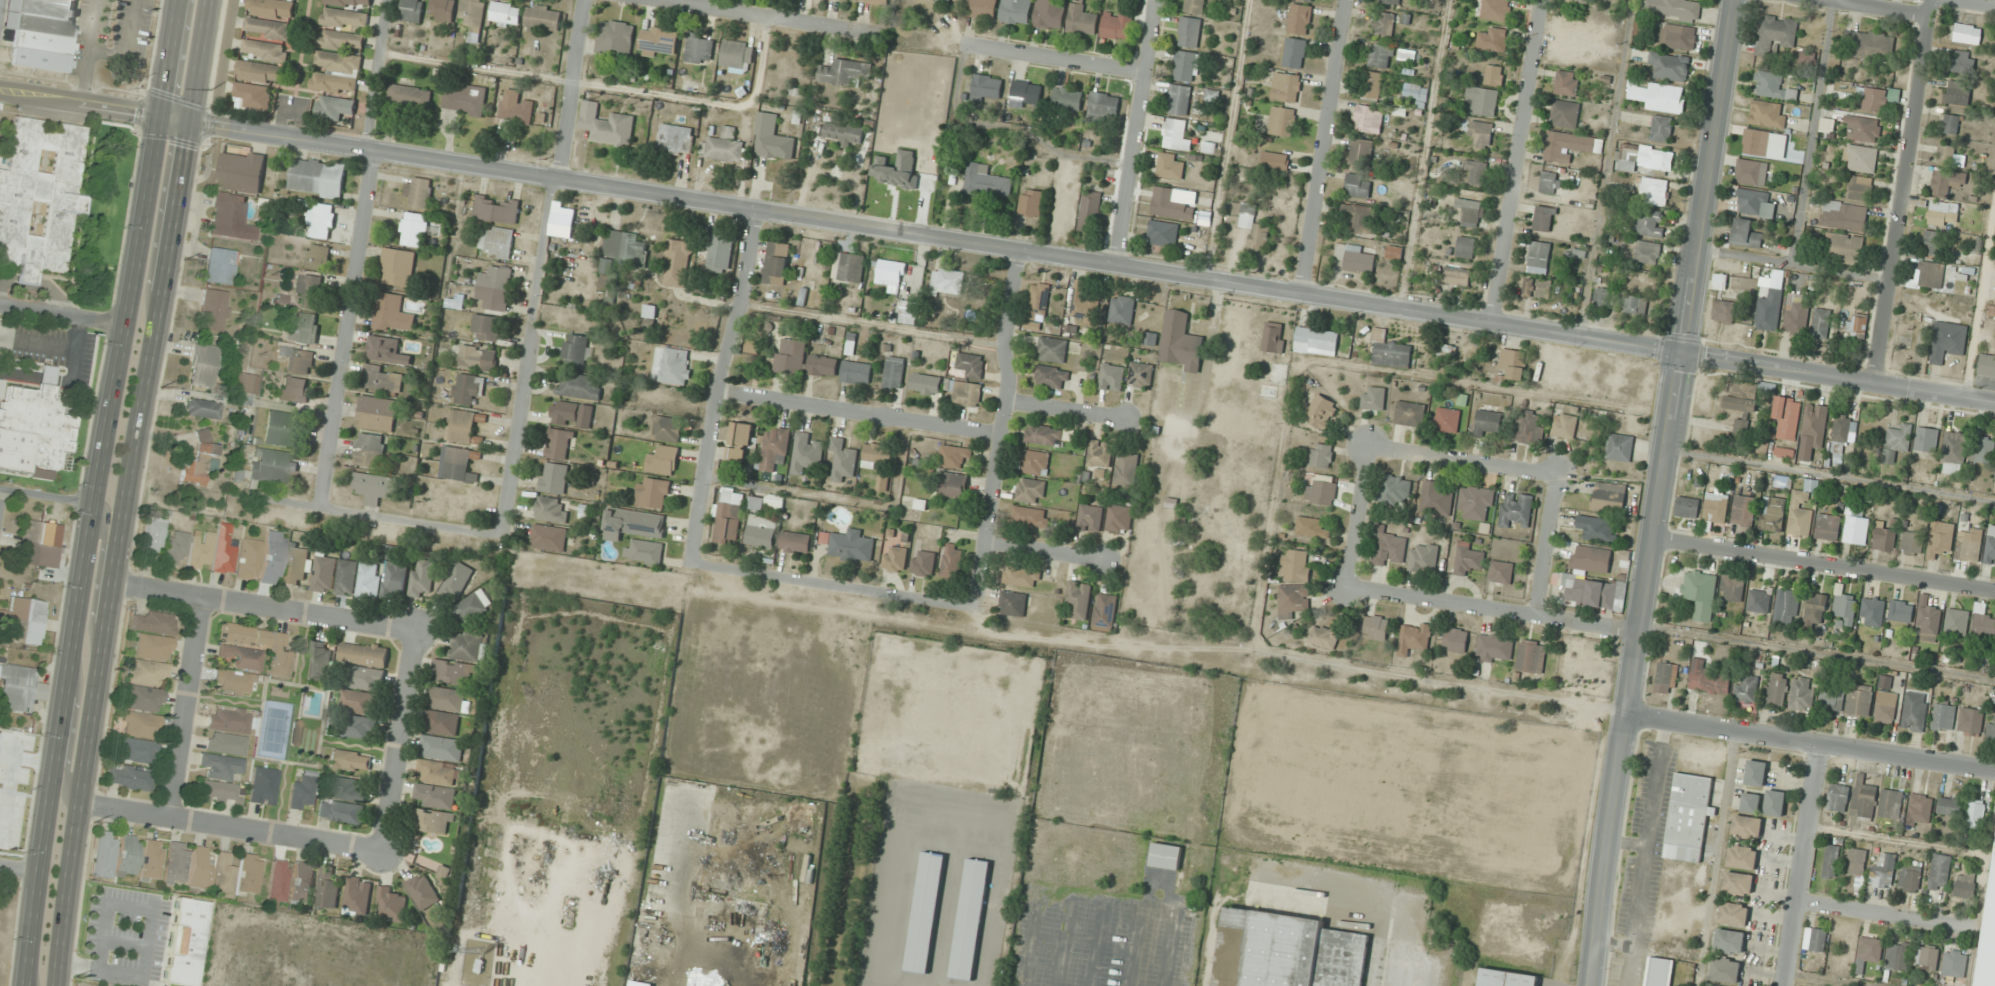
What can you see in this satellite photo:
building: (852, 0)
building: (1310, 0)
building: (1583, 0)
building: (944, 1)
building: (1390, 1)
building: (878, 2)
road: (1976, 2)
building: (351, 3)
building: (1194, 6)
building: (272, 8)
building: (982, 8)
road: (1876, 8)
building: (443, 9)
building: (1672, 9)
building: (412, 10)
building: (1496, 10)
building: (1016, 11)
building: (506, 13)
building: (1050, 14)
building: (473, 15)
road: (764, 16)
building: (542, 17)
building: (345, 18)
building: (1300, 18)
building: (1082, 19)
building: (1116, 24)
building: (1384, 24)
building: (268, 28)
building: (41, 32)
building: (1189, 32)
building: (1966, 33)
building: (1775, 35)
building: (1677, 36)
building: (615, 38)
building: (341, 40)
building: (1493, 40)
building: (658, 41)
building: (1869, 44)
building: (699, 49)
building: (266, 50)
building: (1295, 52)
building: (734, 54)
building: (1381, 56)
road: (1054, 57)
building: (1808, 57)
building: (1963, 62)
building: (1186, 66)
building: (1670, 66)
building: (261, 72)
building: (337, 72)
building: (845, 72)
building: (1494, 75)
building: (1567, 83)
building: (1373, 84)
building: (689, 85)
building: (1773, 85)
road: (607, 86)
building: (986, 87)
building: (1286, 87)
building: (1026, 92)
building: (1958, 92)
building: (1416, 93)
building: (253, 95)
building: (410, 96)
building: (1659, 96)
building: (1067, 99)
building: (1179, 99)
building: (1875, 99)
building: (465, 100)
building: (1480, 100)
building: (1104, 104)
building: (334, 107)
building: (516, 107)
building: (1565, 114)
building: (1768, 114)
traffic signals: (158, 117)
building: (1369, 118)
building: (1282, 121)
traffic signals: (188, 122)
building: (1951, 123)
building: (606, 125)
building: (1662, 128)
building: (1862, 128)
road: (1134, 131)
building: (1480, 133)
road: (1812, 133)
building: (1176, 135)
building: (675, 138)
road: (1226, 138)
building: (772, 139)
building: (1764, 143)
road: (1321, 146)
building: (1570, 146)
building: (724, 147)
building: (1361, 151)
road: (1423, 153)
building: (1947, 154)
building: (1644, 157)
building: (1860, 158)
building: (1275, 159)
road: (1518, 161)
building: (1170, 166)
road: (1606, 168)
building: (1477, 170)
building: (242, 171)
building: (1751, 172)
building: (318, 177)
road: (1707, 177)
building: (986, 182)
building: (1550, 182)
building: (1947, 182)
building: (1358, 185)
building: (1860, 187)
building: (419, 191)
building: (1654, 191)
road: (1902, 191)
building: (40, 197)
building: (1031, 202)
building: (1755, 203)
building: (1171, 204)
building: (497, 209)
building: (1089, 211)
building: (1470, 211)
building: (1943, 213)
building: (1842, 214)
building: (230, 217)
building: (1357, 218)
building: (1544, 218)
building: (322, 220)
building: (562, 222)
building: (1650, 222)
building: (1254, 227)
building: (414, 229)
building: (1162, 233)
building: (1745, 233)
building: (498, 242)
building: (1938, 243)
road: (997, 246)
building: (1466, 246)
building: (1844, 248)
building: (622, 250)
building: (1394, 252)
building: (1648, 252)
road: (357, 254)
building: (718, 254)
building: (1356, 257)
building: (1539, 257)
building: (679, 263)
building: (776, 263)
road: (1793, 265)
building: (220, 266)
building: (398, 267)
road: (539, 267)
building: (848, 267)
building: (891, 272)
building: (1931, 274)
building: (1456, 276)
building: (1720, 281)
building: (947, 282)
building: (495, 287)
building: (1537, 288)
building: (308, 289)
building: (1601, 296)
road: (1979, 296)
building: (1634, 303)
building: (1954, 304)
building: (1038, 305)
building: (1083, 305)
building: (1122, 309)
building: (1992, 309)
building: (1769, 310)
building: (213, 311)
building: (1724, 311)
building: (911, 312)
building: (391, 313)
road: (62, 314)
building: (1796, 315)
building: (650, 316)
building: (1821, 323)
building: (1856, 325)
building: (304, 327)
building: (486, 327)
building: (1274, 337)
building: (1316, 340)
building: (1947, 341)
building: (1181, 342)
building: (752, 346)
building: (1052, 349)
building: (387, 350)
building: (576, 351)
building: (1389, 351)
traffic signals: (1682, 355)
building: (790, 356)
building: (478, 357)
building: (298, 359)
building: (1514, 364)
building: (203, 365)
building: (823, 365)
building: (971, 365)
building: (1986, 366)
building: (675, 367)
building: (856, 372)
building: (894, 372)
building: (1281, 374)
building: (1141, 375)
building: (1052, 377)
building: (1112, 377)
building: (383, 379)
building: (926, 383)
road: (720, 385)
building: (579, 386)
building: (245, 387)
building: (467, 388)
building: (295, 389)
building: (966, 393)
building: (1373, 398)
building: (1742, 402)
road: (1064, 407)
building: (202, 409)
building: (377, 413)
road: (859, 413)
building: (1324, 413)
building: (1410, 413)
building: (572, 414)
building: (1787, 417)
building: (1447, 419)
building: (1487, 422)
building: (1816, 423)
building: (1565, 425)
building: (35, 426)
building: (465, 426)
road: (1001, 427)
building: (1528, 427)
building: (668, 428)
building: (283, 429)
building: (1047, 435)
building: (1840, 436)
building: (1926, 439)
building: (1897, 442)
building: (560, 443)
building: (741, 443)
building: (1619, 447)
building: (369, 449)
building: (773, 449)
building: (1983, 450)
building: (1953, 452)
building: (806, 453)
building: (878, 453)
building: (1784, 453)
building: (954, 455)
building: (1321, 455)
building: (1100, 457)
building: (843, 458)
building: (663, 460)
building: (200, 461)
road: (1463, 461)
building: (1035, 462)
building: (460, 465)
building: (271, 466)
building: (1126, 469)
building: (554, 478)
building: (1783, 481)
building: (883, 482)
building: (953, 484)
building: (373, 486)
building: (1031, 490)
building: (1396, 490)
building: (1322, 491)
road: (0, 492)
road: (95, 492)
road: (126, 492)
building: (653, 492)
road: (47, 495)
building: (1436, 497)
building: (1608, 497)
building: (774, 501)
building: (1476, 503)
building: (1687, 507)
building: (1716, 507)
building: (551, 509)
building: (1516, 510)
building: (1743, 510)
building: (1800, 513)
building: (1772, 514)
road: (367, 515)
building: (1030, 516)
road: (1359, 517)
building: (1090, 518)
building: (1119, 518)
building: (729, 520)
building: (633, 523)
building: (1312, 527)
building: (1828, 527)
building: (1597, 529)
building: (1856, 530)
building: (762, 531)
building: (549, 537)
building: (1940, 538)
building: (153, 539)
building: (1885, 539)
building: (795, 542)
building: (1912, 542)
building: (40, 544)
building: (849, 545)
road: (1547, 546)
building: (1990, 546)
building: (176, 547)
building: (1389, 549)
building: (1968, 549)
road: (1043, 550)
building: (200, 551)
building: (224, 551)
building: (645, 551)
building: (272, 558)
building: (894, 558)
building: (1423, 558)
building: (1591, 558)
building: (1468, 559)
building: (248, 560)
building: (952, 560)
building: (923, 563)
building: (297, 565)
building: (1295, 565)
road: (1824, 565)
building: (1501, 572)
building: (325, 573)
road: (97, 575)
building: (1019, 576)
building: (347, 577)
building: (396, 578)
building: (422, 578)
building: (458, 578)
building: (370, 581)
road: (833, 585)
building: (1732, 590)
building: (1591, 591)
building: (1700, 592)
building: (1078, 600)
building: (1292, 601)
building: (1759, 601)
building: (1013, 603)
building: (1790, 605)
road: (263, 607)
building: (472, 607)
building: (1845, 608)
building: (1816, 609)
building: (1105, 610)
road: (1493, 610)
building: (1872, 611)
building: (1901, 611)
building: (24, 621)
building: (1929, 621)
building: (1957, 621)
building: (151, 624)
building: (1984, 625)
building: (1376, 627)
building: (243, 636)
building: (1324, 636)
building: (1414, 637)
building: (1455, 639)
building: (467, 646)
building: (153, 648)
building: (1495, 648)
building: (365, 654)
building: (1531, 656)
building: (242, 657)
building: (279, 658)
building: (320, 662)
road: (1631, 669)
building: (453, 672)
building: (147, 673)
building: (366, 678)
building: (1666, 678)
building: (1707, 679)
building: (232, 683)
building: (20, 688)
building: (1745, 689)
building: (1776, 690)
building: (1802, 694)
building: (447, 699)
building: (144, 700)
building: (1859, 700)
building: (1831, 701)
building: (361, 702)
building: (1885, 707)
road: (185, 708)
building: (1915, 712)
building: (1943, 716)
building: (1973, 720)
building: (232, 722)
building: (442, 723)
building: (140, 725)
building: (358, 727)
road: (69, 731)
building: (1990, 733)
road: (399, 742)
building: (225, 744)
road: (1808, 745)
building: (442, 748)
building: (137, 751)
building: (351, 760)
building: (221, 767)
building: (437, 772)
building: (1755, 773)
building: (128, 778)
building: (264, 786)
building: (349, 789)
building: (219, 793)
building: (301, 794)
building: (435, 796)
building: (1838, 797)
building: (1864, 800)
building: (1750, 803)
building: (1775, 803)
building: (1890, 803)
building: (1949, 806)
building: (1921, 807)
building: (341, 812)
building: (1975, 814)
building: (1687, 816)
building: (431, 820)
building: (1747, 827)
road: (230, 828)
building: (104, 855)
building: (128, 856)
building: (1166, 857)
building: (1742, 857)
building: (152, 861)
building: (1831, 861)
building: (176, 863)
building: (1858, 864)
road: (1800, 866)
building: (200, 870)
building: (1939, 871)
road: (18, 873)
building: (1883, 873)
building: (250, 874)
building: (223, 875)
building: (1910, 877)
building: (278, 881)
building: (302, 882)
building: (1738, 883)
building: (1965, 884)
building: (328, 888)
building: (423, 890)
building: (358, 896)
building: (391, 904)
building: (926, 912)
building: (1733, 914)
road: (1881, 914)
building: (971, 919)
building: (1988, 932)
building: (1816, 939)
building: (1729, 941)
building: (184, 942)
building: (1286, 951)
building: (1868, 953)
building: (1897, 956)
building: (1927, 958)
building: (1954, 963)
building: (415, 965)
building: (1725, 970)
building: (1505, 978)
building: (638, 983)
building: (1710, 985)

